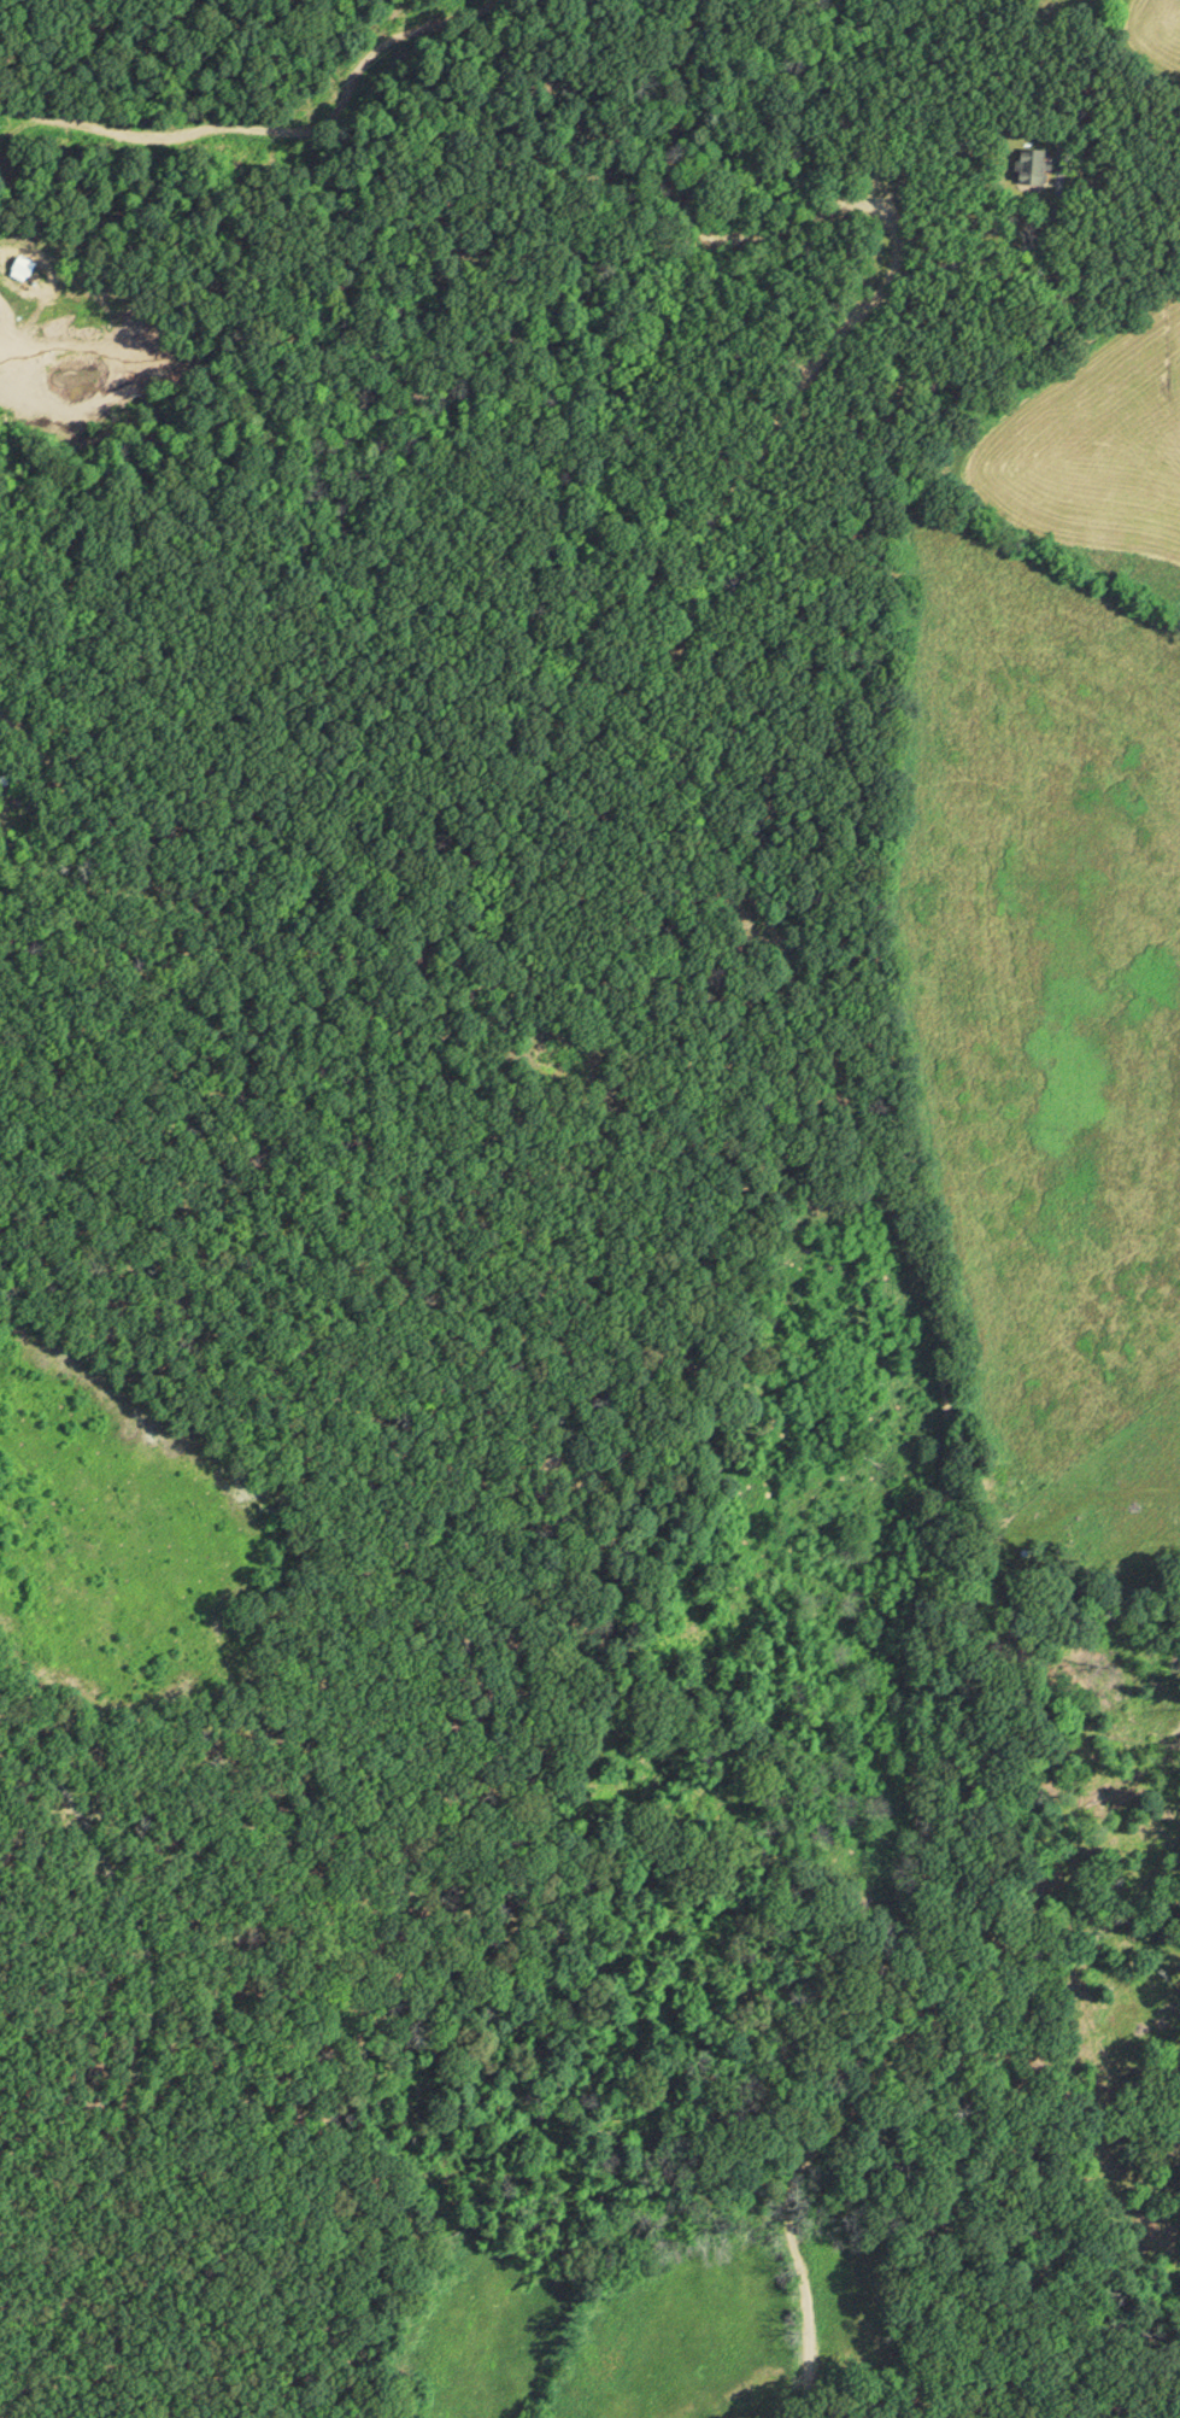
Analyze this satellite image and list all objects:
building: (28, 267)

